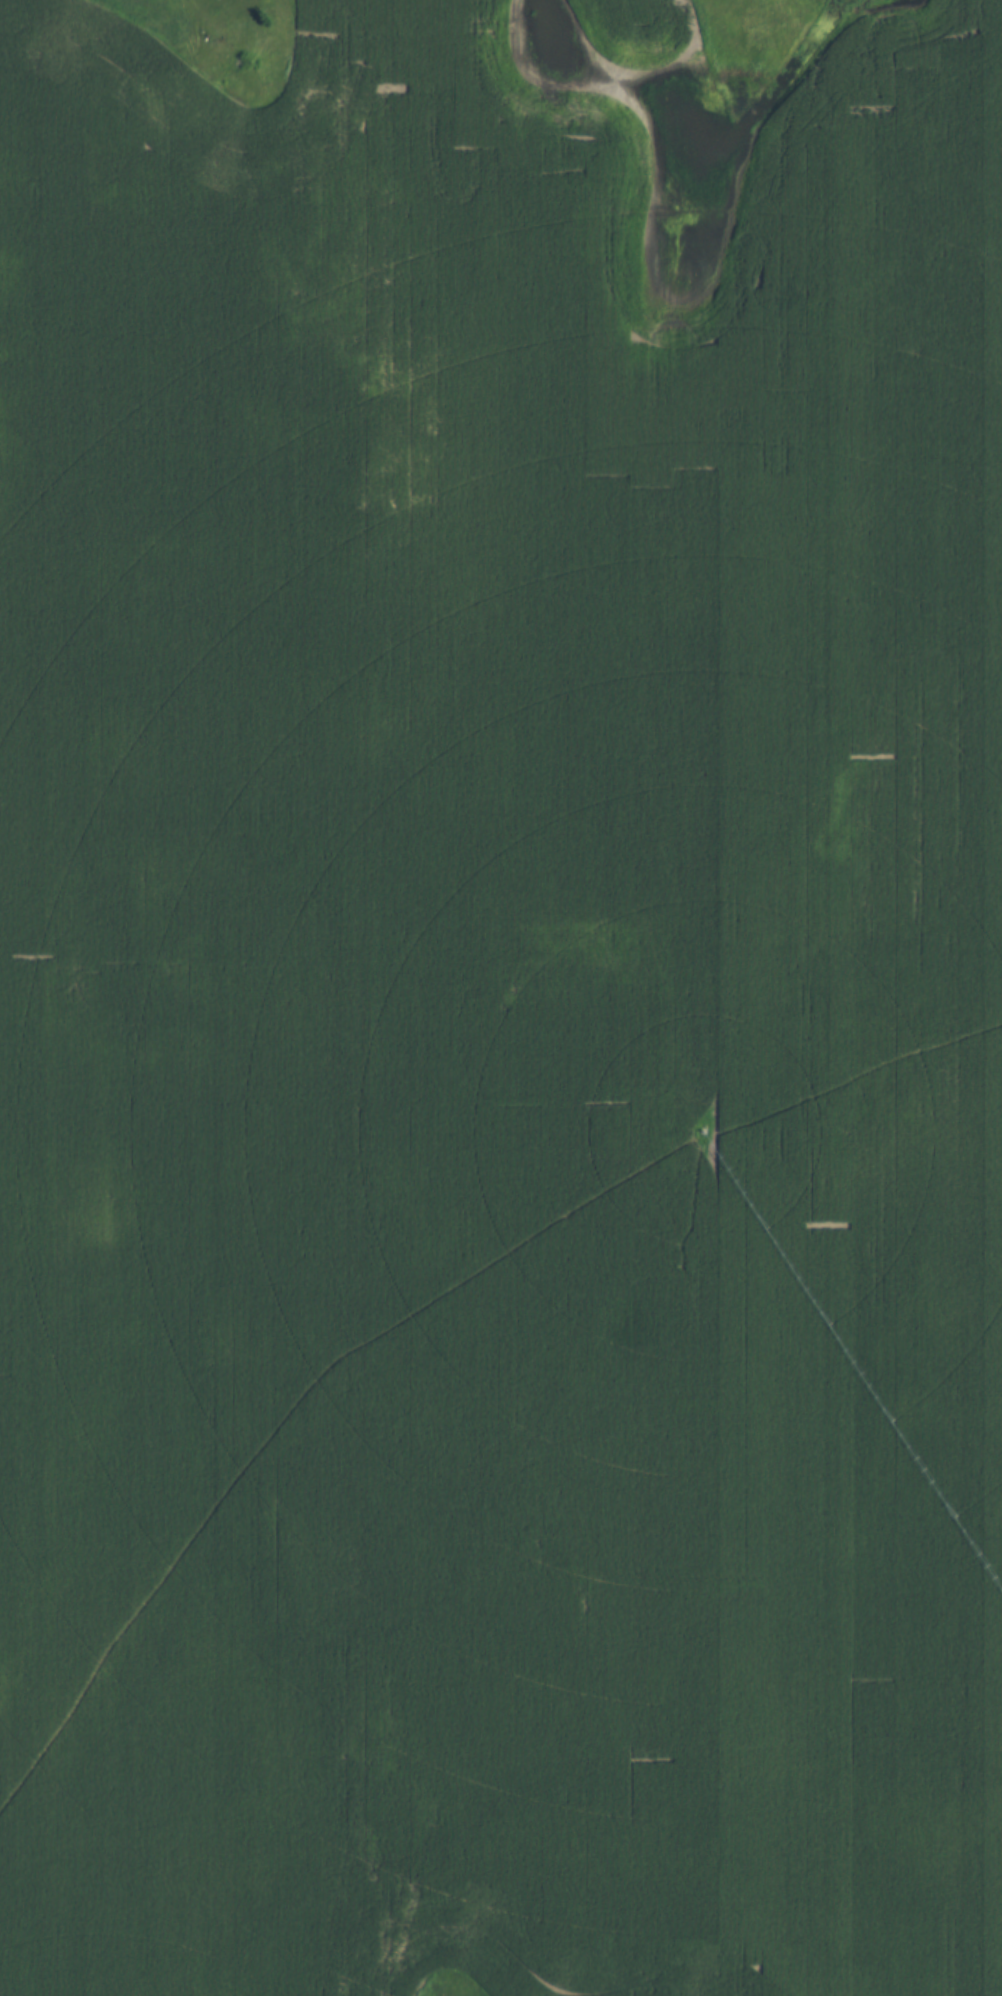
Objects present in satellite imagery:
road: (592, 1846)

